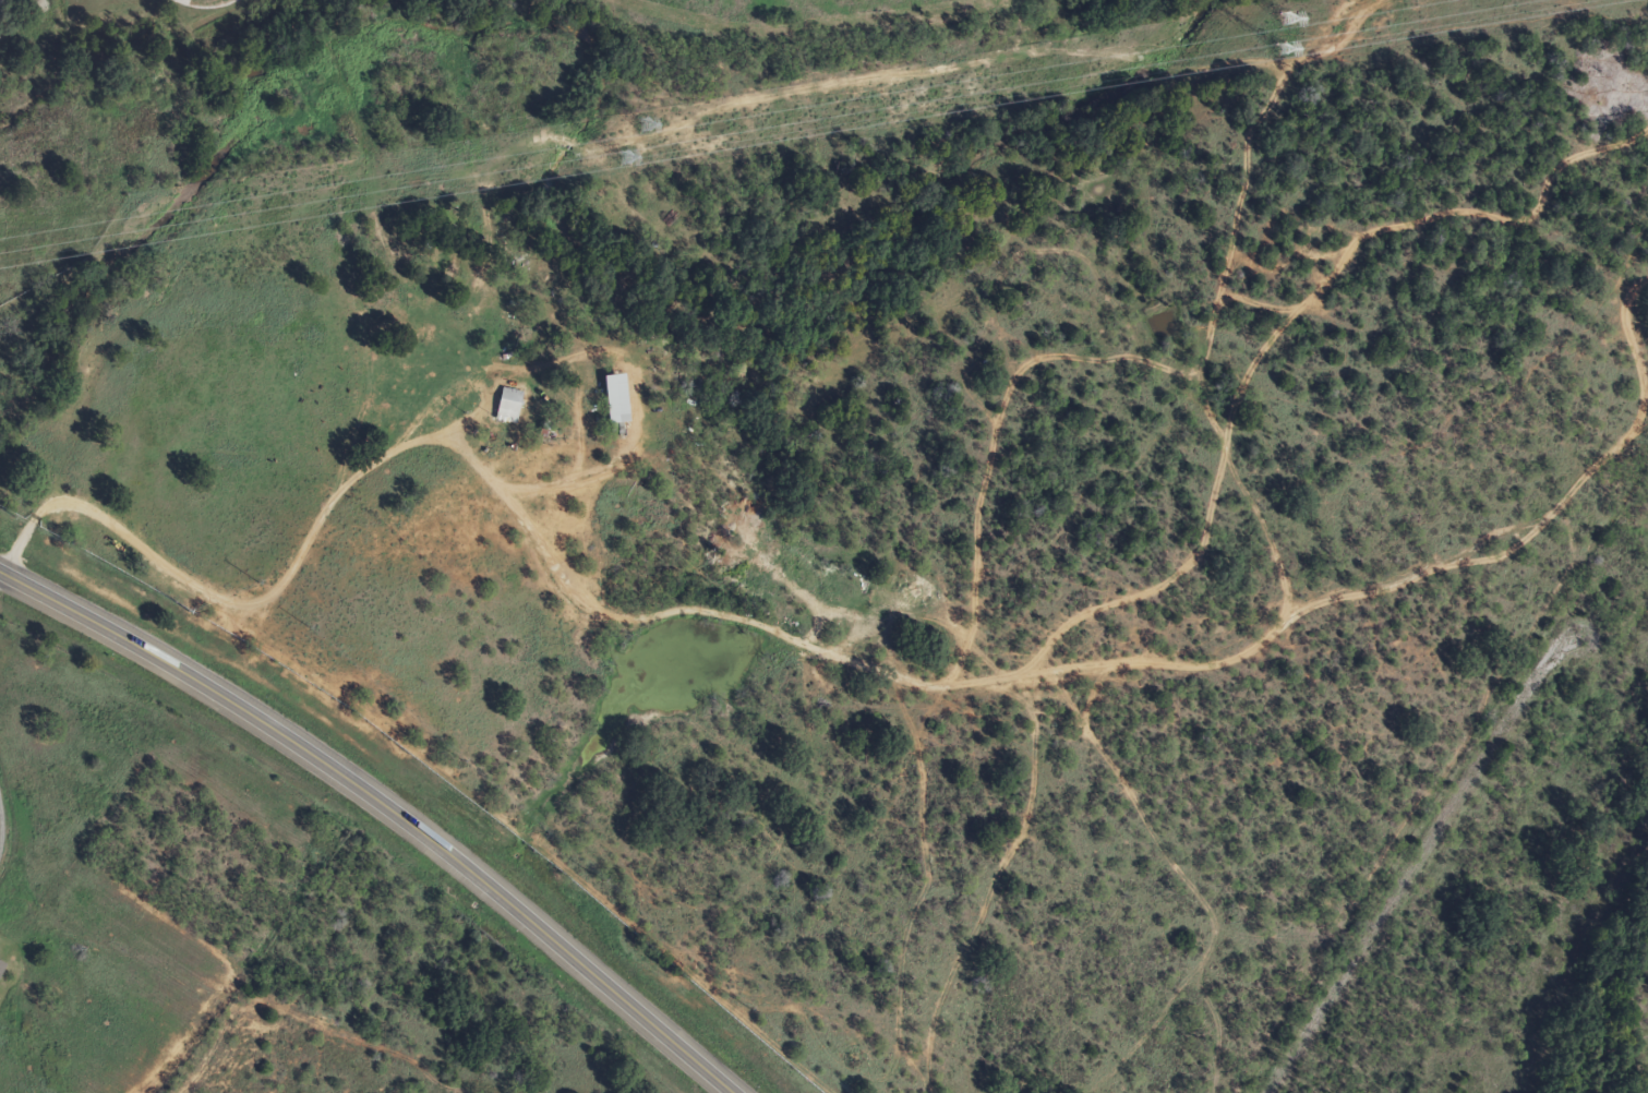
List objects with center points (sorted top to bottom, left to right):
power tower: (1286, 17)
power tower: (1275, 51)
power tower: (642, 124)
power tower: (613, 159)
power tower: (145, 237)
building: (612, 399)
building: (505, 406)
road: (237, 600)
road: (383, 808)
road: (0, 836)
building: (0, 964)

